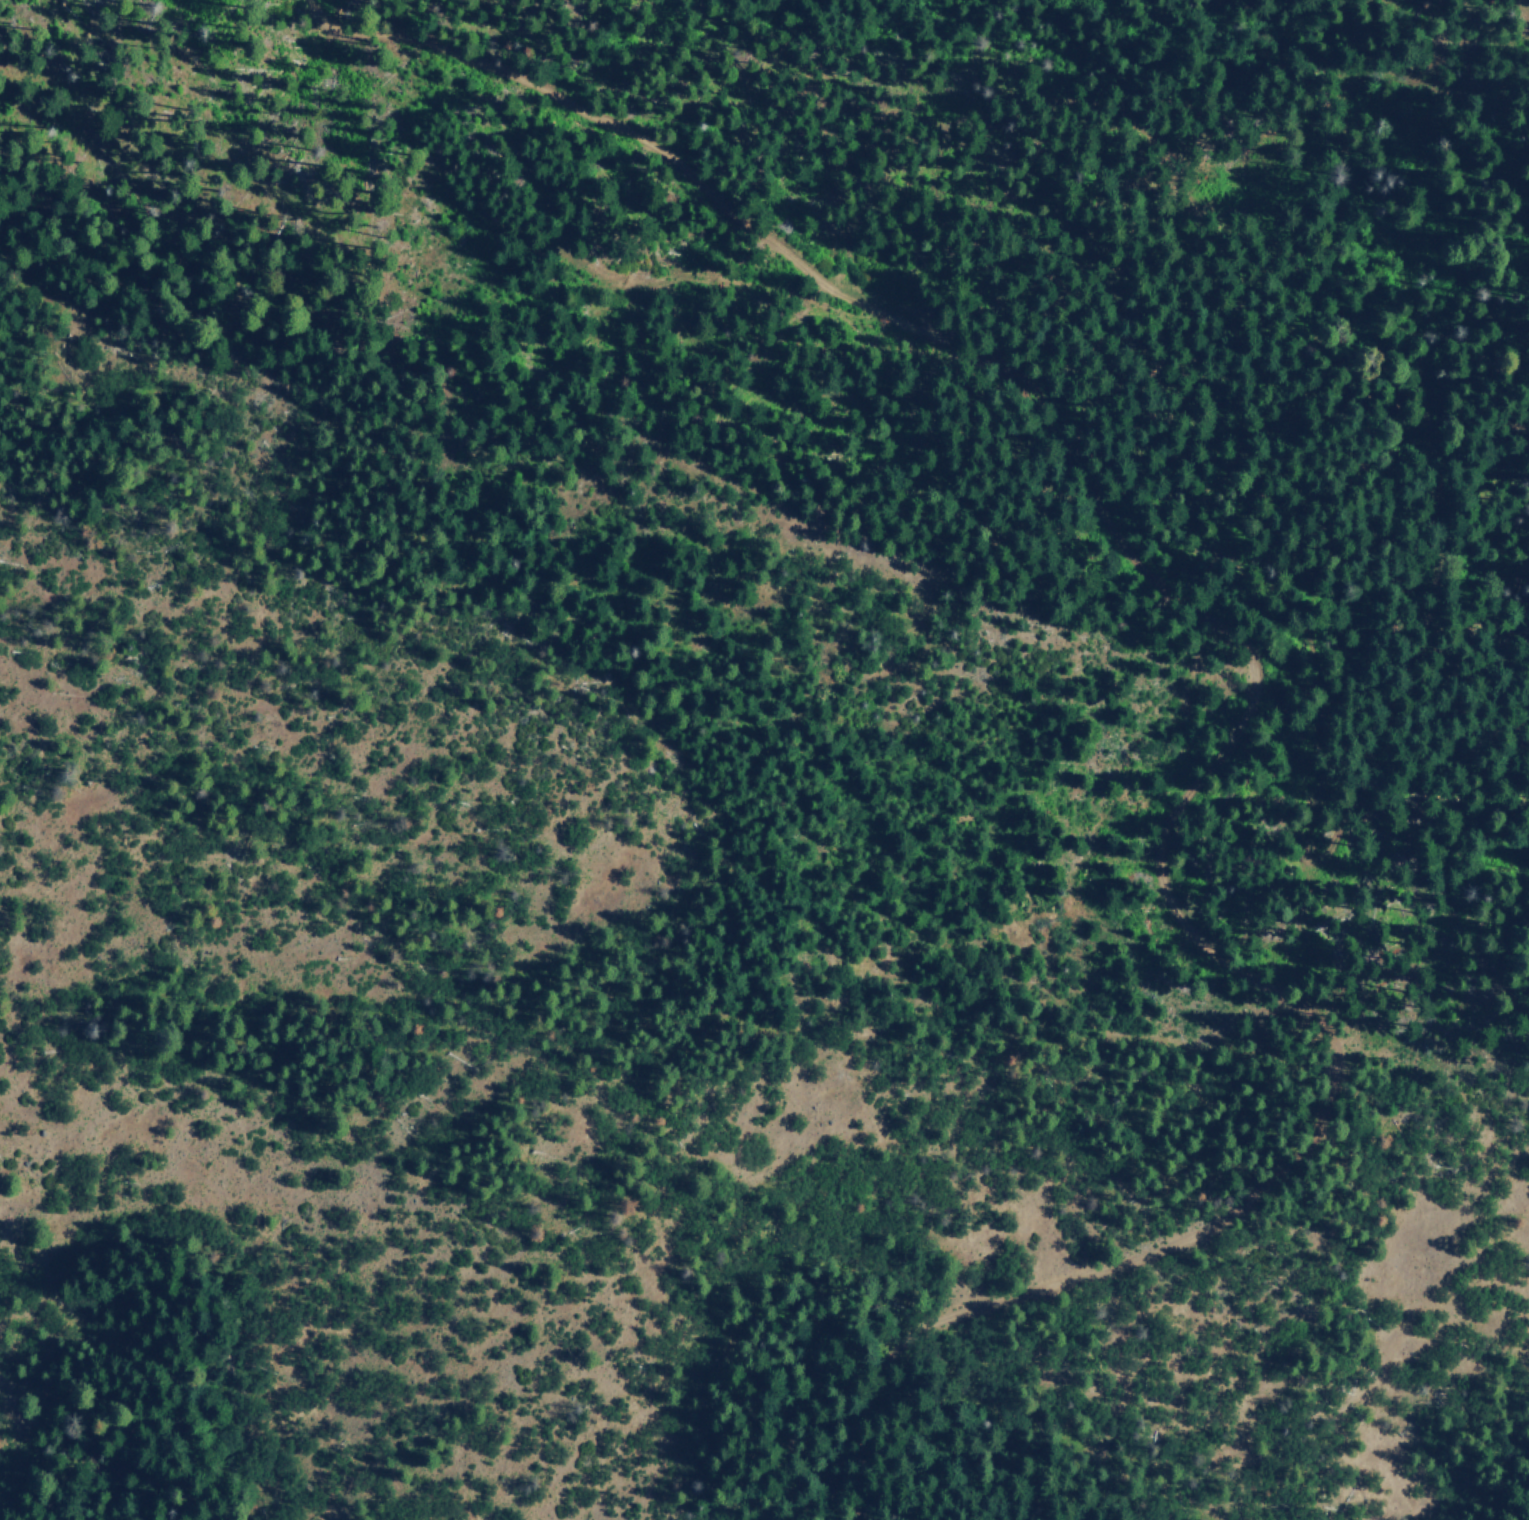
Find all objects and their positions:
road: (1253, 706)

